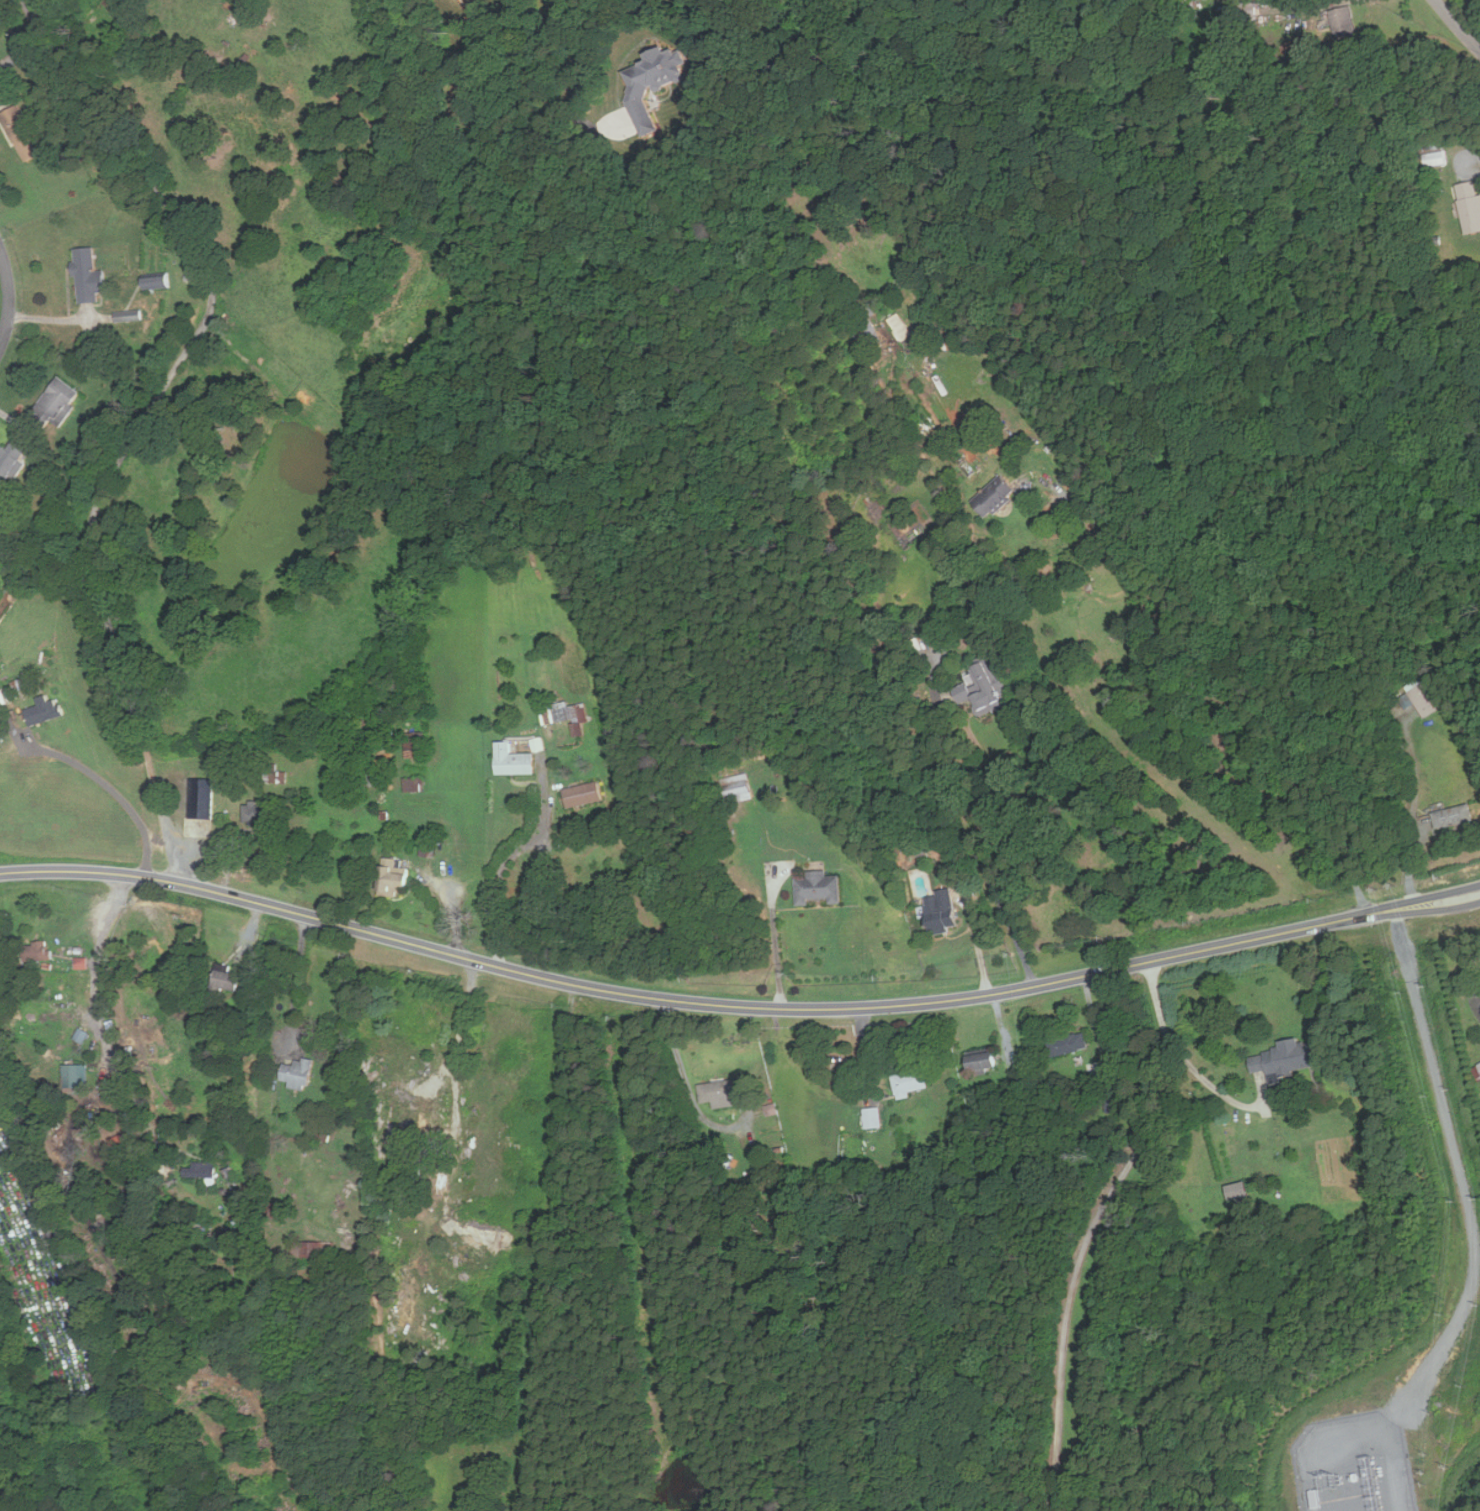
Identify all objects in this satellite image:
building: (1339, 22)
road: (1457, 26)
road: (20, 44)
road: (575, 49)
building: (641, 88)
building: (24, 133)
road: (1464, 154)
building: (1436, 159)
building: (1466, 210)
building: (90, 276)
building: (160, 282)
road: (9, 297)
building: (130, 315)
road: (63, 320)
building: (899, 326)
building: (58, 404)
road: (148, 421)
building: (12, 465)
road: (1224, 682)
building: (1421, 697)
building: (46, 711)
building: (567, 715)
building: (515, 760)
building: (379, 778)
building: (415, 784)
building: (738, 784)
road: (110, 788)
building: (586, 793)
building: (204, 798)
building: (256, 813)
building: (1451, 817)
road: (967, 828)
road: (510, 855)
building: (399, 880)
building: (821, 887)
road: (1437, 903)
road: (1437, 907)
building: (945, 909)
road: (978, 943)
road: (776, 945)
road: (1403, 945)
building: (229, 979)
road: (297, 982)
road: (694, 1002)
road: (98, 1016)
building: (1075, 1043)
building: (1282, 1058)
building: (988, 1061)
building: (1478, 1066)
building: (300, 1073)
building: (75, 1076)
road: (453, 1076)
road: (687, 1077)
road: (1199, 1077)
building: (912, 1082)
building: (723, 1092)
building: (874, 1117)
building: (203, 1170)
building: (1235, 1190)
road: (1468, 1208)
road: (1093, 1229)
road: (549, 1249)
power substation: (1353, 1464)

